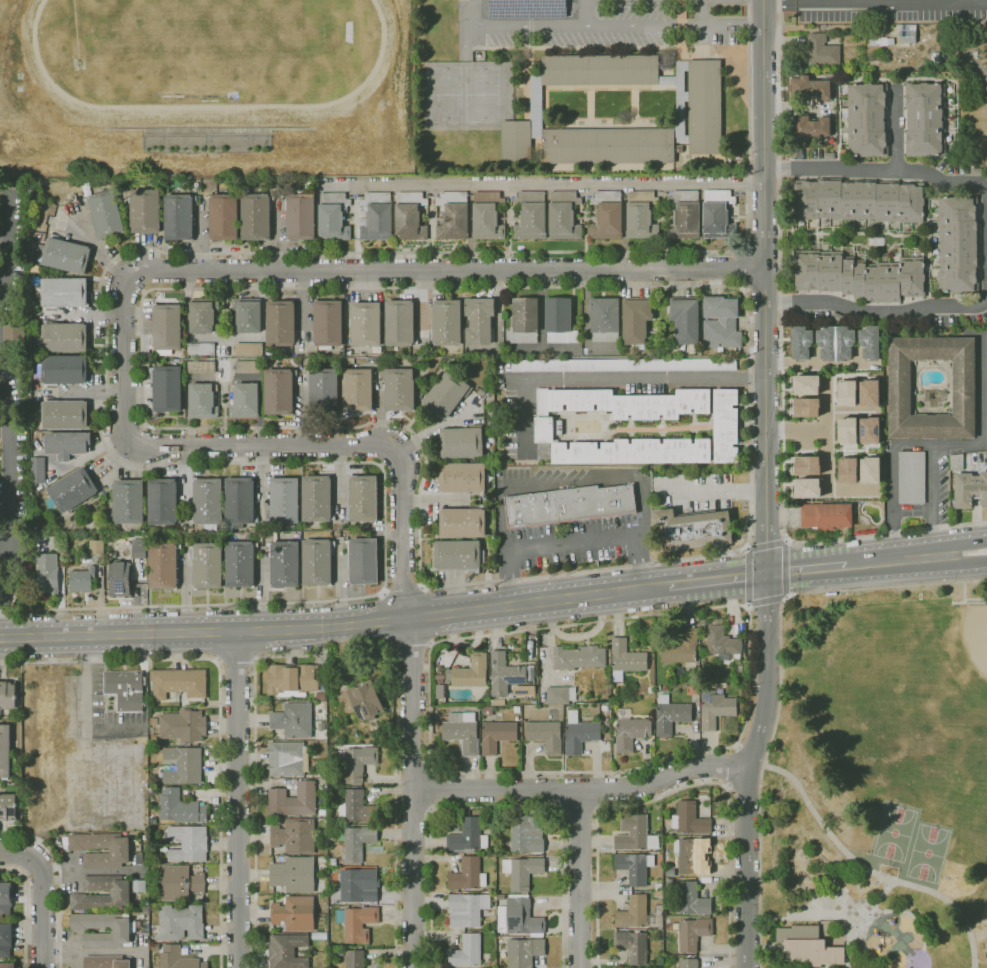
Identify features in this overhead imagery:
road: (874, 1)
building: (527, 8)
road: (586, 12)
road: (702, 12)
parking lot: (602, 23)
road: (609, 24)
building: (907, 34)
park: (208, 42)
building: (822, 51)
building: (975, 53)
building: (936, 59)
track: (35, 66)
building: (599, 70)
road: (983, 75)
building: (800, 87)
building: (822, 89)
park: (481, 93)
park: (443, 94)
building: (678, 98)
building: (536, 107)
building: (705, 107)
road: (795, 107)
building: (926, 119)
building: (867, 120)
building: (800, 127)
building: (821, 127)
road: (897, 132)
building: (516, 142)
building: (608, 146)
road: (876, 169)
building: (975, 171)
road: (545, 183)
building: (859, 200)
building: (145, 210)
building: (106, 213)
building: (531, 215)
building: (564, 215)
building: (607, 215)
building: (642, 215)
building: (685, 215)
building: (717, 215)
building: (256, 216)
building: (300, 216)
building: (410, 216)
building: (454, 216)
building: (488, 216)
building: (179, 217)
building: (223, 217)
building: (333, 217)
building: (377, 217)
road: (7, 219)
building: (876, 241)
road: (3, 244)
building: (957, 244)
building: (64, 255)
road: (3, 267)
road: (744, 269)
road: (445, 270)
building: (860, 275)
road: (137, 285)
building: (63, 292)
road: (424, 298)
road: (101, 305)
road: (875, 311)
building: (247, 314)
building: (203, 315)
building: (604, 319)
building: (479, 320)
building: (686, 320)
building: (524, 321)
building: (559, 321)
building: (636, 321)
building: (446, 322)
building: (400, 323)
building: (721, 323)
building: (281, 324)
building: (327, 324)
building: (365, 324)
building: (167, 328)
building: (14, 332)
building: (62, 336)
building: (800, 343)
building: (835, 343)
building: (868, 343)
building: (201, 349)
building: (249, 349)
road: (124, 358)
building: (621, 365)
building: (249, 366)
road: (818, 366)
building: (201, 367)
building: (64, 370)
road: (782, 370)
road: (610, 379)
building: (805, 384)
building: (900, 386)
building: (167, 389)
building: (399, 389)
building: (322, 390)
building: (357, 390)
building: (279, 391)
building: (846, 392)
building: (869, 392)
building: (446, 394)
building: (203, 401)
building: (245, 401)
building: (632, 403)
building: (806, 407)
road: (851, 412)
building: (63, 414)
building: (545, 419)
building: (725, 425)
road: (749, 428)
road: (3, 430)
road: (797, 430)
building: (869, 430)
building: (847, 431)
building: (461, 442)
road: (931, 443)
building: (68, 444)
road: (262, 445)
building: (634, 451)
road: (827, 460)
building: (956, 462)
building: (804, 465)
building: (38, 470)
building: (847, 470)
building: (869, 470)
building: (462, 478)
building: (911, 478)
road: (542, 485)
road: (767, 485)
building: (806, 488)
building: (970, 489)
building: (71, 491)
road: (713, 491)
building: (317, 499)
building: (284, 500)
road: (933, 500)
building: (163, 501)
building: (362, 501)
building: (128, 502)
building: (207, 502)
building: (239, 502)
building: (569, 504)
road: (8, 506)
building: (826, 515)
building: (462, 522)
building: (692, 530)
building: (188, 532)
road: (575, 540)
road: (790, 543)
road: (768, 544)
road: (958, 545)
building: (97, 546)
road: (5, 548)
building: (139, 548)
road: (747, 548)
building: (458, 555)
road: (915, 558)
road: (637, 560)
building: (363, 561)
building: (317, 562)
road: (872, 562)
building: (240, 563)
building: (284, 563)
road: (959, 564)
building: (163, 565)
building: (207, 565)
road: (806, 568)
road: (789, 569)
building: (47, 573)
traffic signals: (768, 574)
road: (748, 576)
building: (119, 578)
building: (82, 579)
road: (718, 580)
road: (402, 591)
road: (788, 595)
road: (768, 599)
road: (746, 605)
road: (335, 625)
park: (976, 636)
building: (721, 641)
building: (681, 648)
road: (326, 655)
building: (579, 657)
building: (626, 659)
road: (237, 662)
building: (470, 672)
building: (505, 674)
building: (440, 678)
building: (292, 680)
road: (780, 681)
building: (178, 683)
building: (125, 688)
building: (658, 688)
building: (693, 688)
building: (650, 690)
building: (7, 695)
building: (320, 695)
building: (560, 695)
building: (361, 701)
building: (742, 705)
road: (220, 707)
road: (413, 707)
building: (715, 708)
building: (517, 709)
road: (87, 710)
building: (488, 712)
building: (670, 715)
building: (293, 720)
building: (607, 724)
building: (183, 725)
road: (743, 726)
building: (462, 731)
building: (630, 731)
building: (545, 735)
building: (497, 736)
building: (580, 736)
building: (5, 752)
building: (288, 759)
building: (358, 762)
building: (183, 765)
park: (880, 783)
road: (432, 788)
road: (581, 790)
road: (672, 792)
road: (238, 799)
building: (293, 800)
building: (9, 807)
building: (180, 807)
building: (355, 807)
road: (495, 808)
road: (580, 810)
building: (690, 819)
building: (635, 833)
park: (895, 833)
building: (293, 835)
building: (525, 835)
building: (145, 837)
building: (468, 837)
building: (356, 842)
building: (188, 843)
building: (119, 851)
park: (928, 853)
road: (18, 855)
building: (694, 855)
building: (139, 858)
building: (635, 867)
building: (522, 871)
building: (665, 873)
road: (870, 873)
building: (294, 874)
building: (467, 875)
road: (61, 878)
road: (578, 879)
building: (181, 883)
building: (658, 886)
building: (358, 888)
building: (120, 893)
building: (656, 893)
building: (500, 897)
building: (5, 899)
building: (689, 900)
building: (467, 909)
building: (658, 909)
road: (23, 911)
building: (634, 912)
building: (295, 913)
road: (42, 914)
building: (519, 918)
building: (181, 922)
building: (357, 923)
building: (123, 931)
building: (693, 933)
building: (319, 936)
building: (6, 940)
building: (632, 946)
building: (809, 946)
building: (287, 951)
building: (466, 951)
building: (524, 952)
building: (178, 959)
building: (355, 959)
building: (106, 962)
building: (688, 963)
building: (7, 965)

